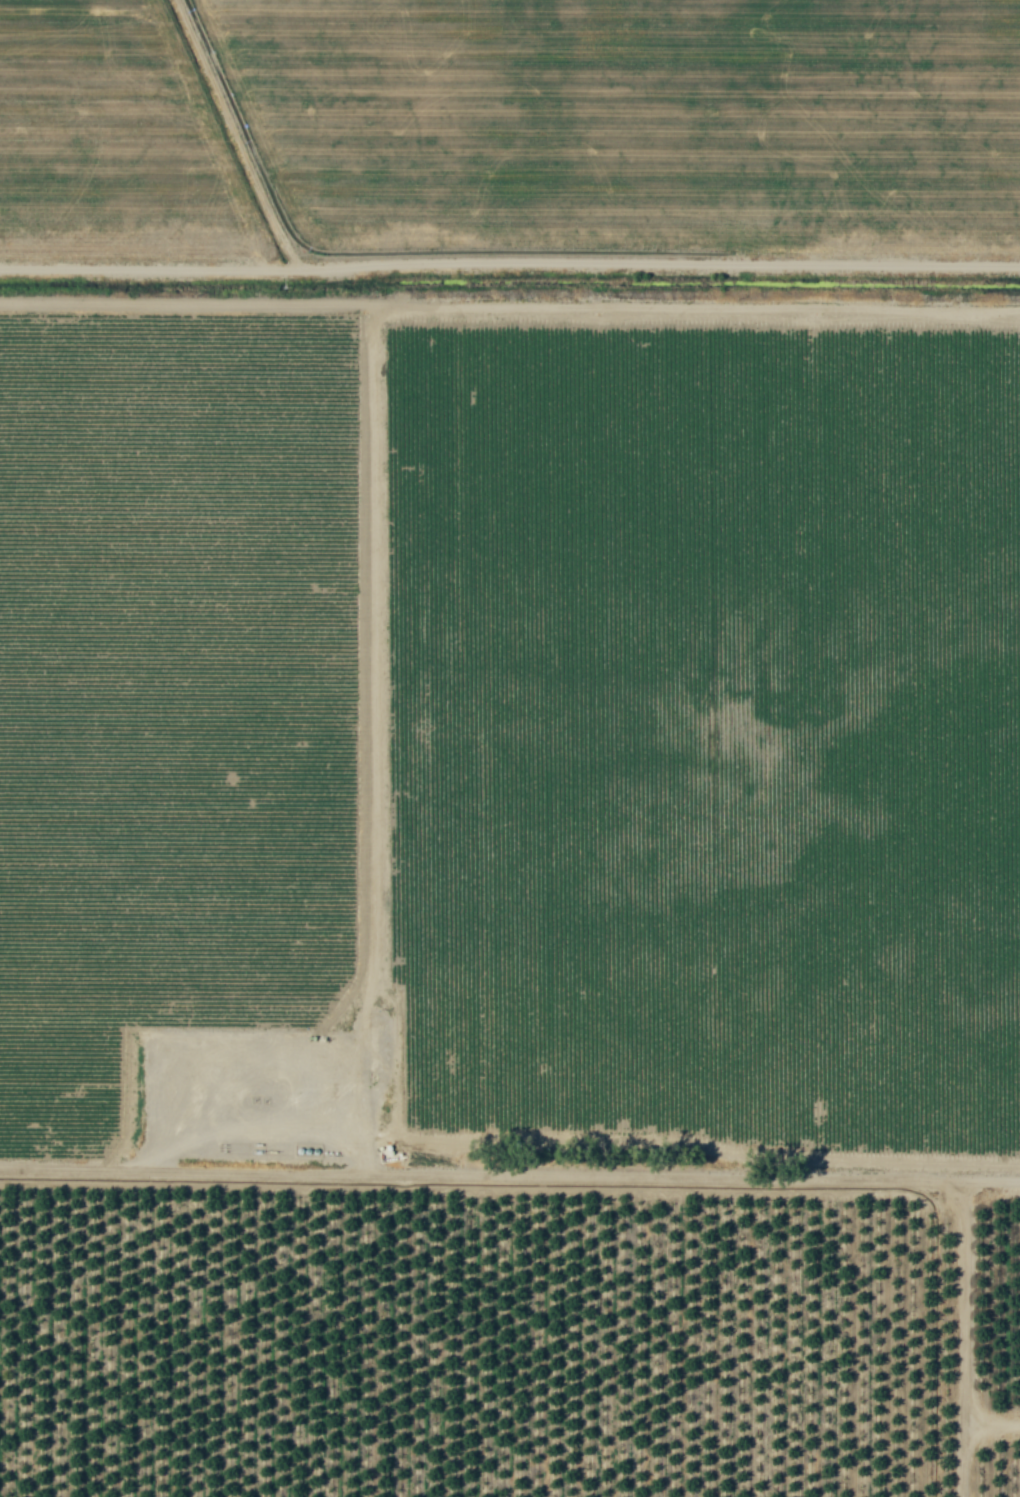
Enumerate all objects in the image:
road: (142, 274)

